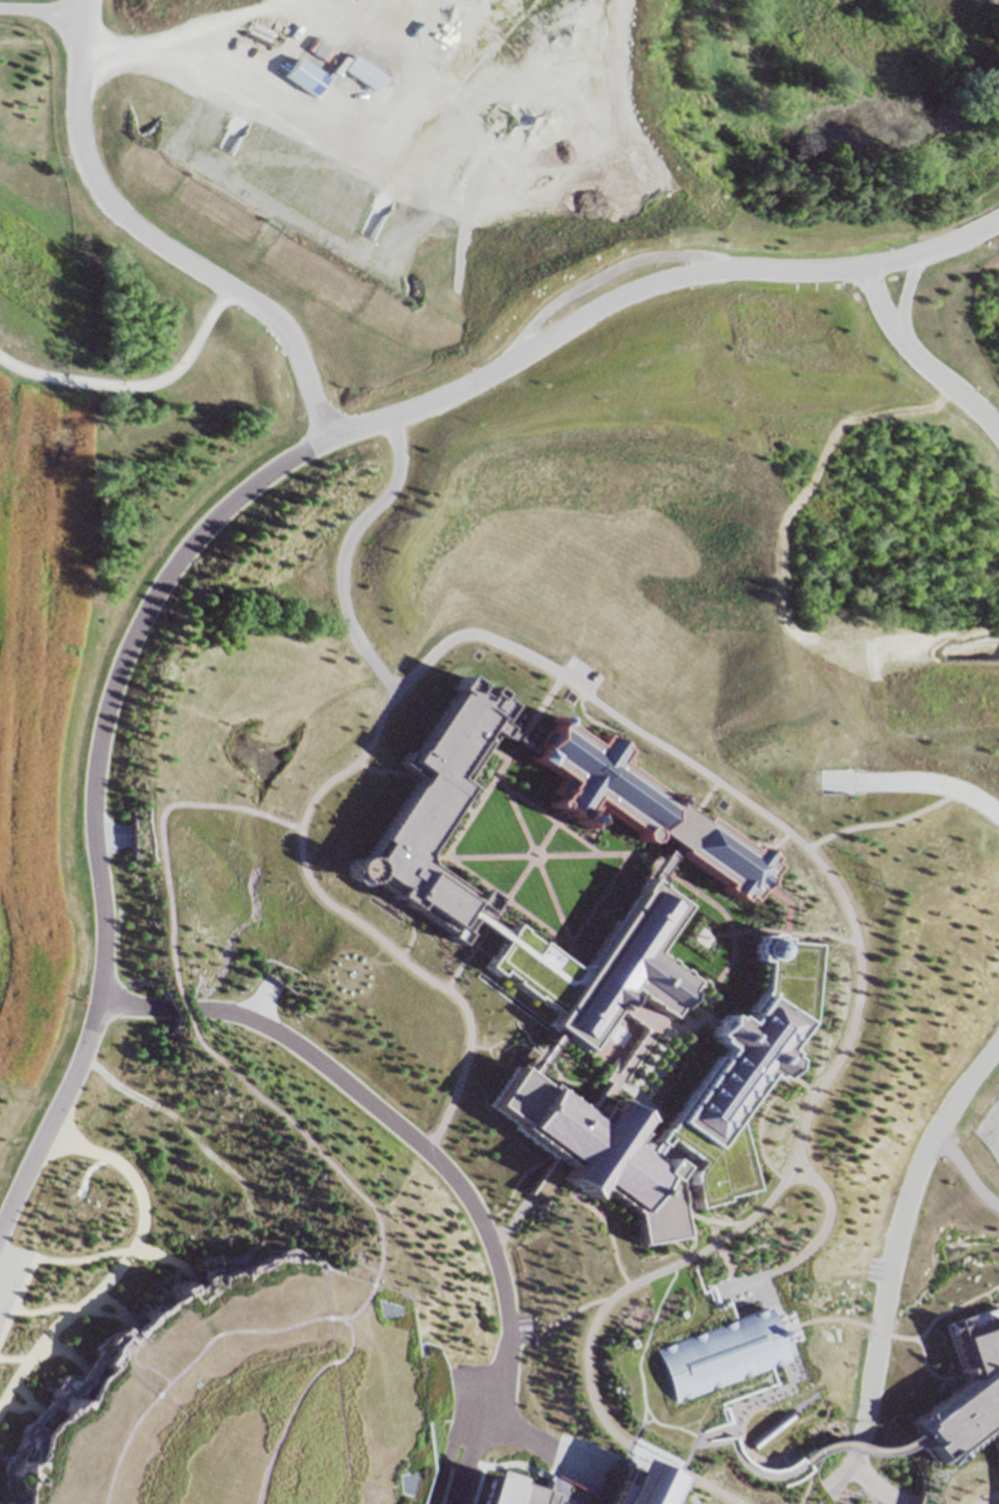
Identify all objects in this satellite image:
road: (39, 11)
road: (933, 241)
road: (161, 243)
road: (951, 312)
road: (919, 351)
road: (20, 407)
building: (487, 488)
road: (198, 537)
road: (342, 552)
building: (662, 582)
building: (68, 658)
road: (6, 699)
road: (546, 708)
road: (600, 717)
road: (517, 735)
building: (672, 742)
road: (496, 748)
road: (386, 770)
road: (915, 783)
road: (712, 797)
road: (484, 798)
building: (647, 806)
road: (271, 808)
road: (517, 810)
building: (432, 811)
road: (551, 815)
road: (111, 827)
road: (554, 829)
road: (49, 838)
road: (532, 848)
road: (434, 855)
road: (448, 855)
road: (664, 864)
building: (554, 878)
parking garage: (554, 878)
road: (605, 892)
road: (788, 901)
road: (730, 910)
road: (561, 916)
road: (488, 920)
road: (485, 925)
road: (747, 930)
road: (821, 935)
road: (853, 935)
road: (808, 936)
road: (264, 994)
road: (136, 1007)
road: (708, 1011)
road: (623, 1017)
road: (653, 1018)
road: (538, 1049)
road: (609, 1053)
road: (495, 1060)
road: (462, 1064)
building: (740, 1068)
road: (626, 1082)
building: (751, 1107)
road: (654, 1113)
building: (136, 1121)
road: (294, 1132)
building: (595, 1147)
road: (803, 1176)
road: (474, 1202)
road: (711, 1215)
road: (825, 1233)
road: (696, 1234)
road: (907, 1236)
road: (83, 1258)
road: (168, 1258)
road: (732, 1258)
road: (125, 1262)
parking lot: (11, 1277)
road: (732, 1286)
road: (777, 1291)
road: (18, 1299)
road: (113, 1301)
road: (44, 1311)
road: (108, 1313)
road: (852, 1313)
road: (320, 1315)
road: (931, 1325)
road: (67, 1350)
building: (654, 1353)
building: (718, 1356)
road: (16, 1358)
road: (26, 1391)
building: (972, 1391)
building: (248, 1397)
road: (1, 1403)
road: (28, 1405)
road: (473, 1449)
road: (873, 1449)
road: (445, 1450)
building: (758, 1460)
road: (107, 1464)
road: (854, 1472)
road: (900, 1479)
building: (639, 1484)
building: (501, 1488)
road: (988, 1497)

